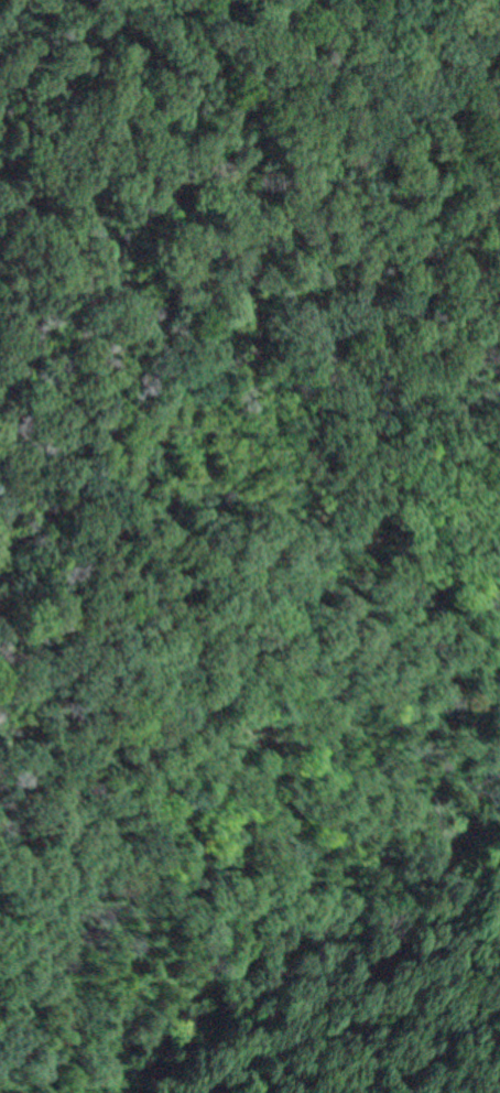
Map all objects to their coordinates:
road: (180, 257)
road: (293, 267)
road: (23, 280)
road: (135, 386)
park: (259, 551)
road: (267, 631)
road: (366, 968)
road: (498, 1092)

